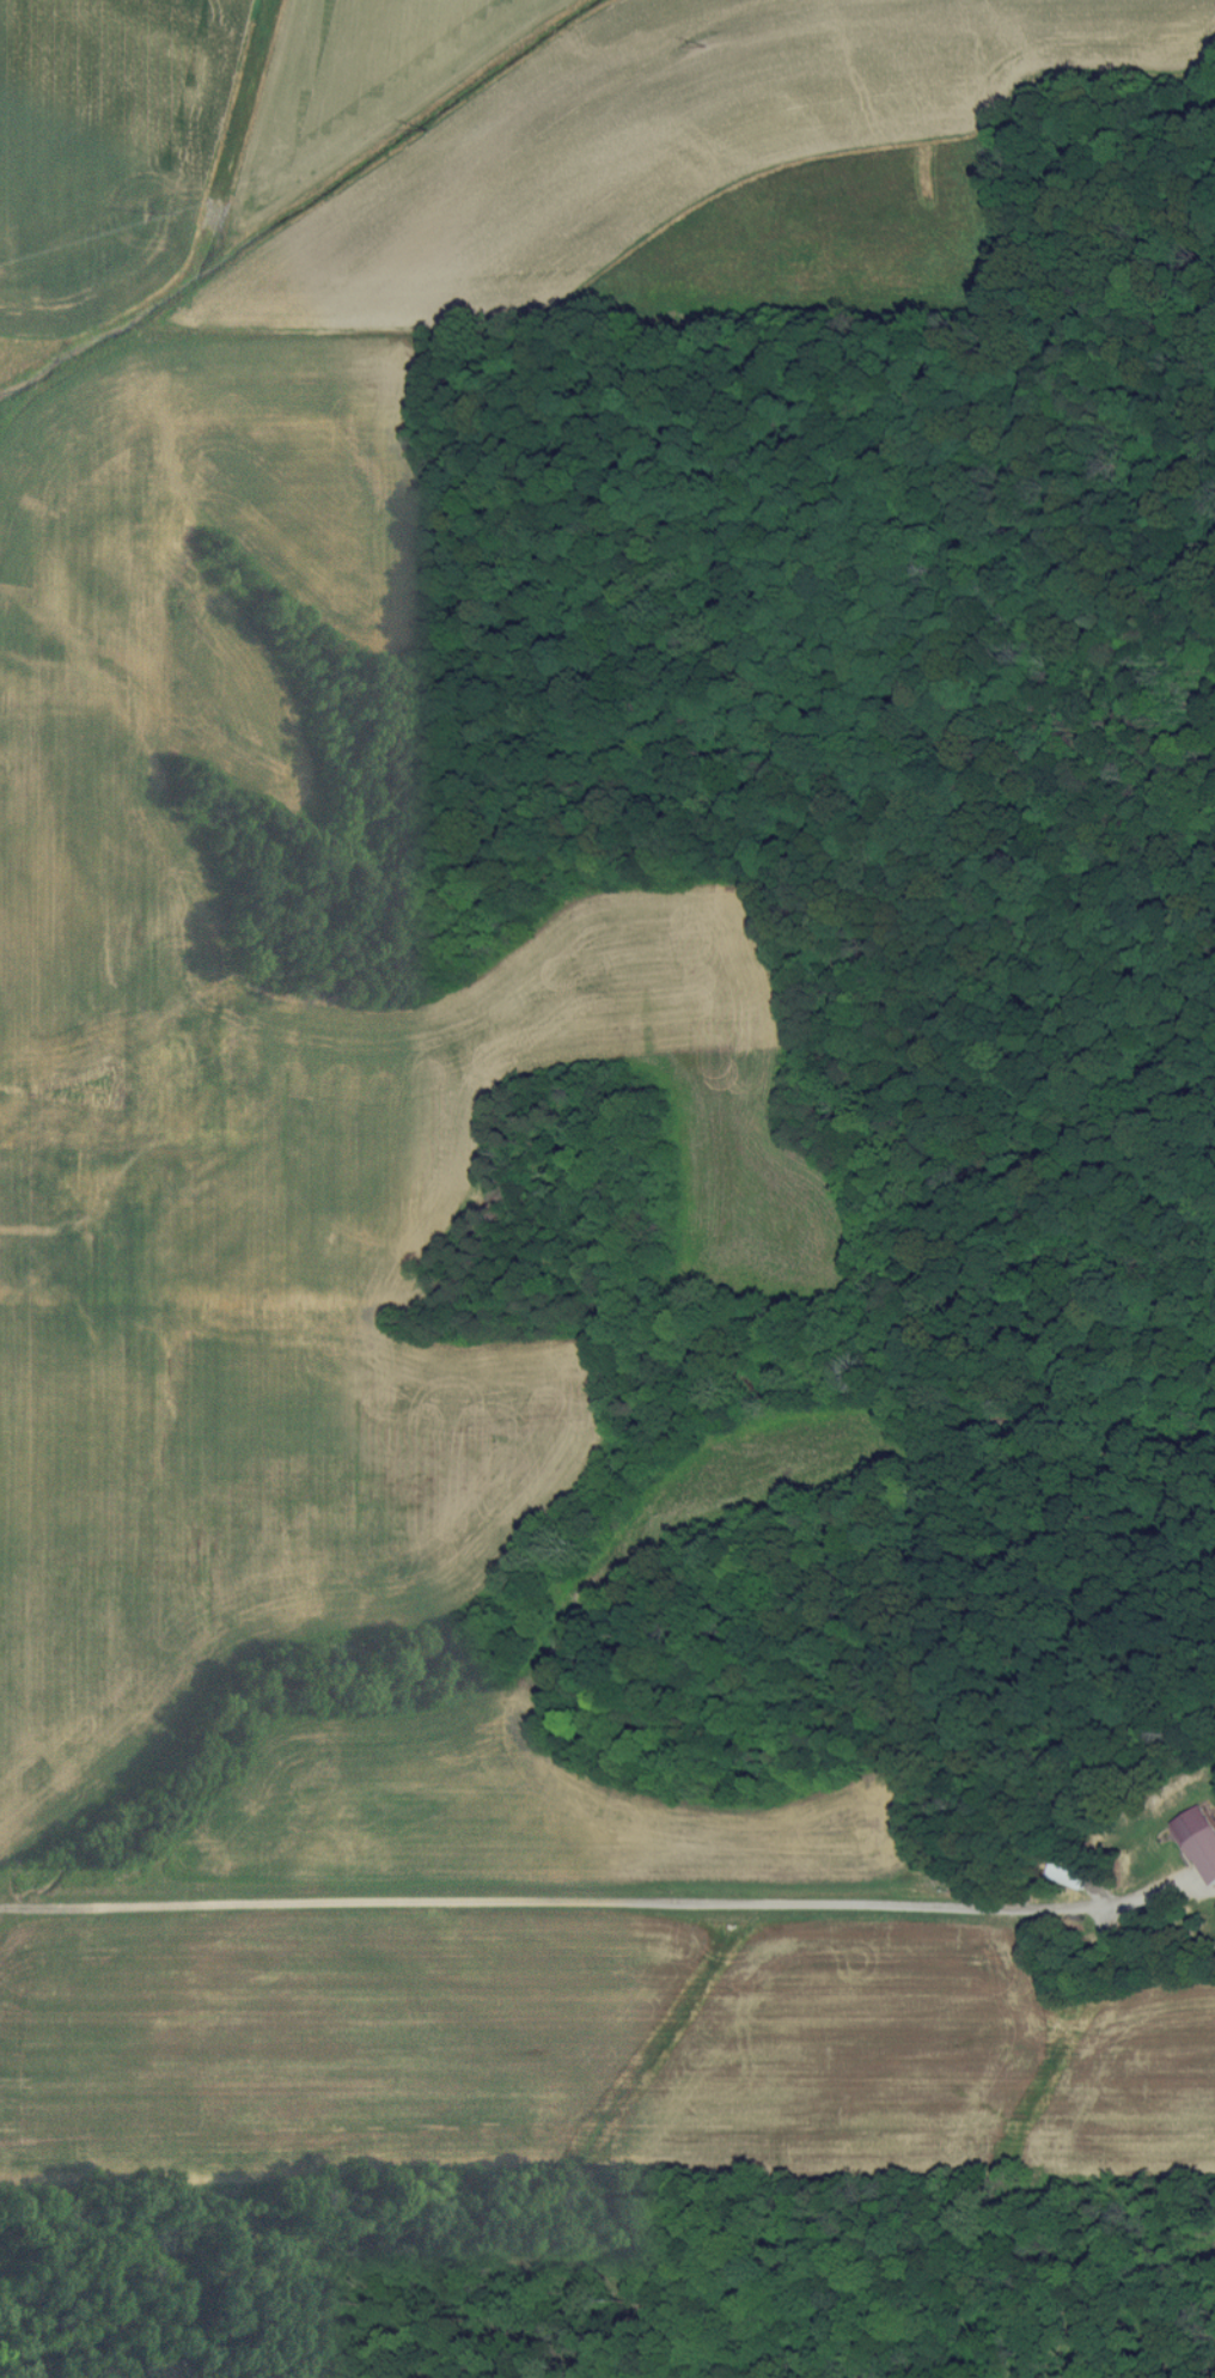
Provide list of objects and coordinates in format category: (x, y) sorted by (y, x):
building: (226, 1028)
building: (90, 1179)
building: (1198, 1841)
road: (591, 1901)

